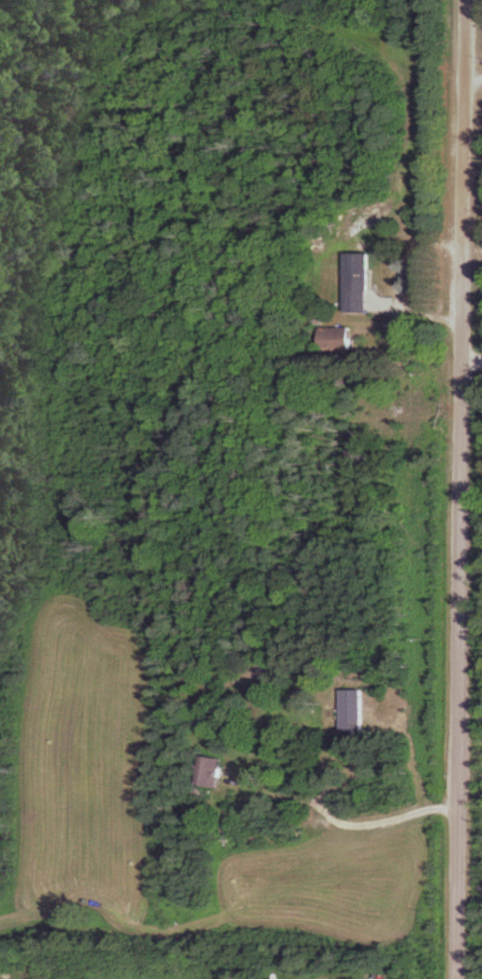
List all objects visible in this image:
building: (361, 283)
building: (342, 340)
road: (472, 356)
road: (461, 489)
building: (357, 711)
building: (210, 771)

